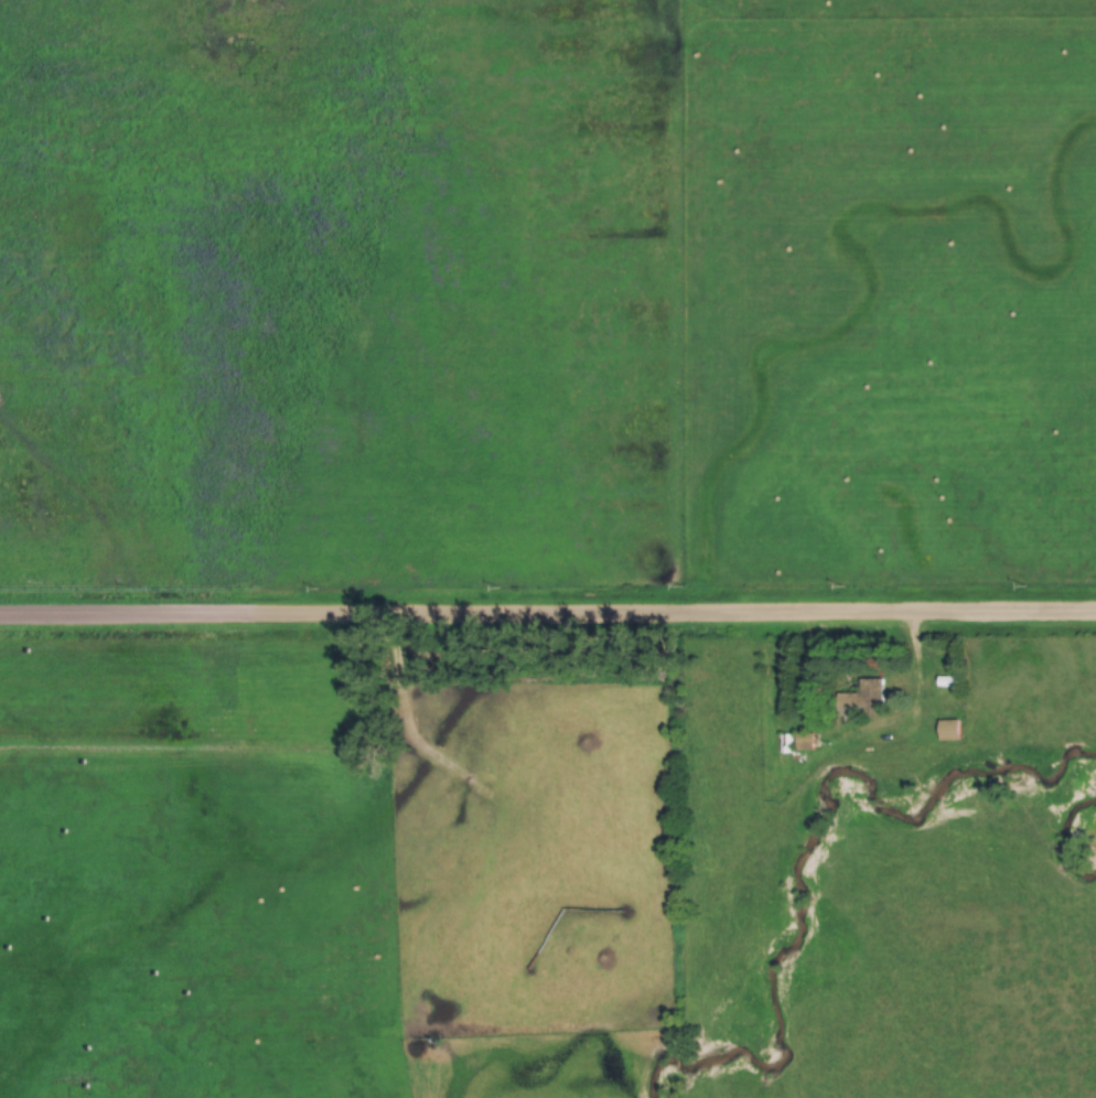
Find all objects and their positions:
road: (547, 614)
building: (944, 682)
building: (859, 700)
building: (946, 731)
building: (802, 742)
building: (781, 745)
road: (862, 745)
river: (1062, 832)
river: (806, 848)

